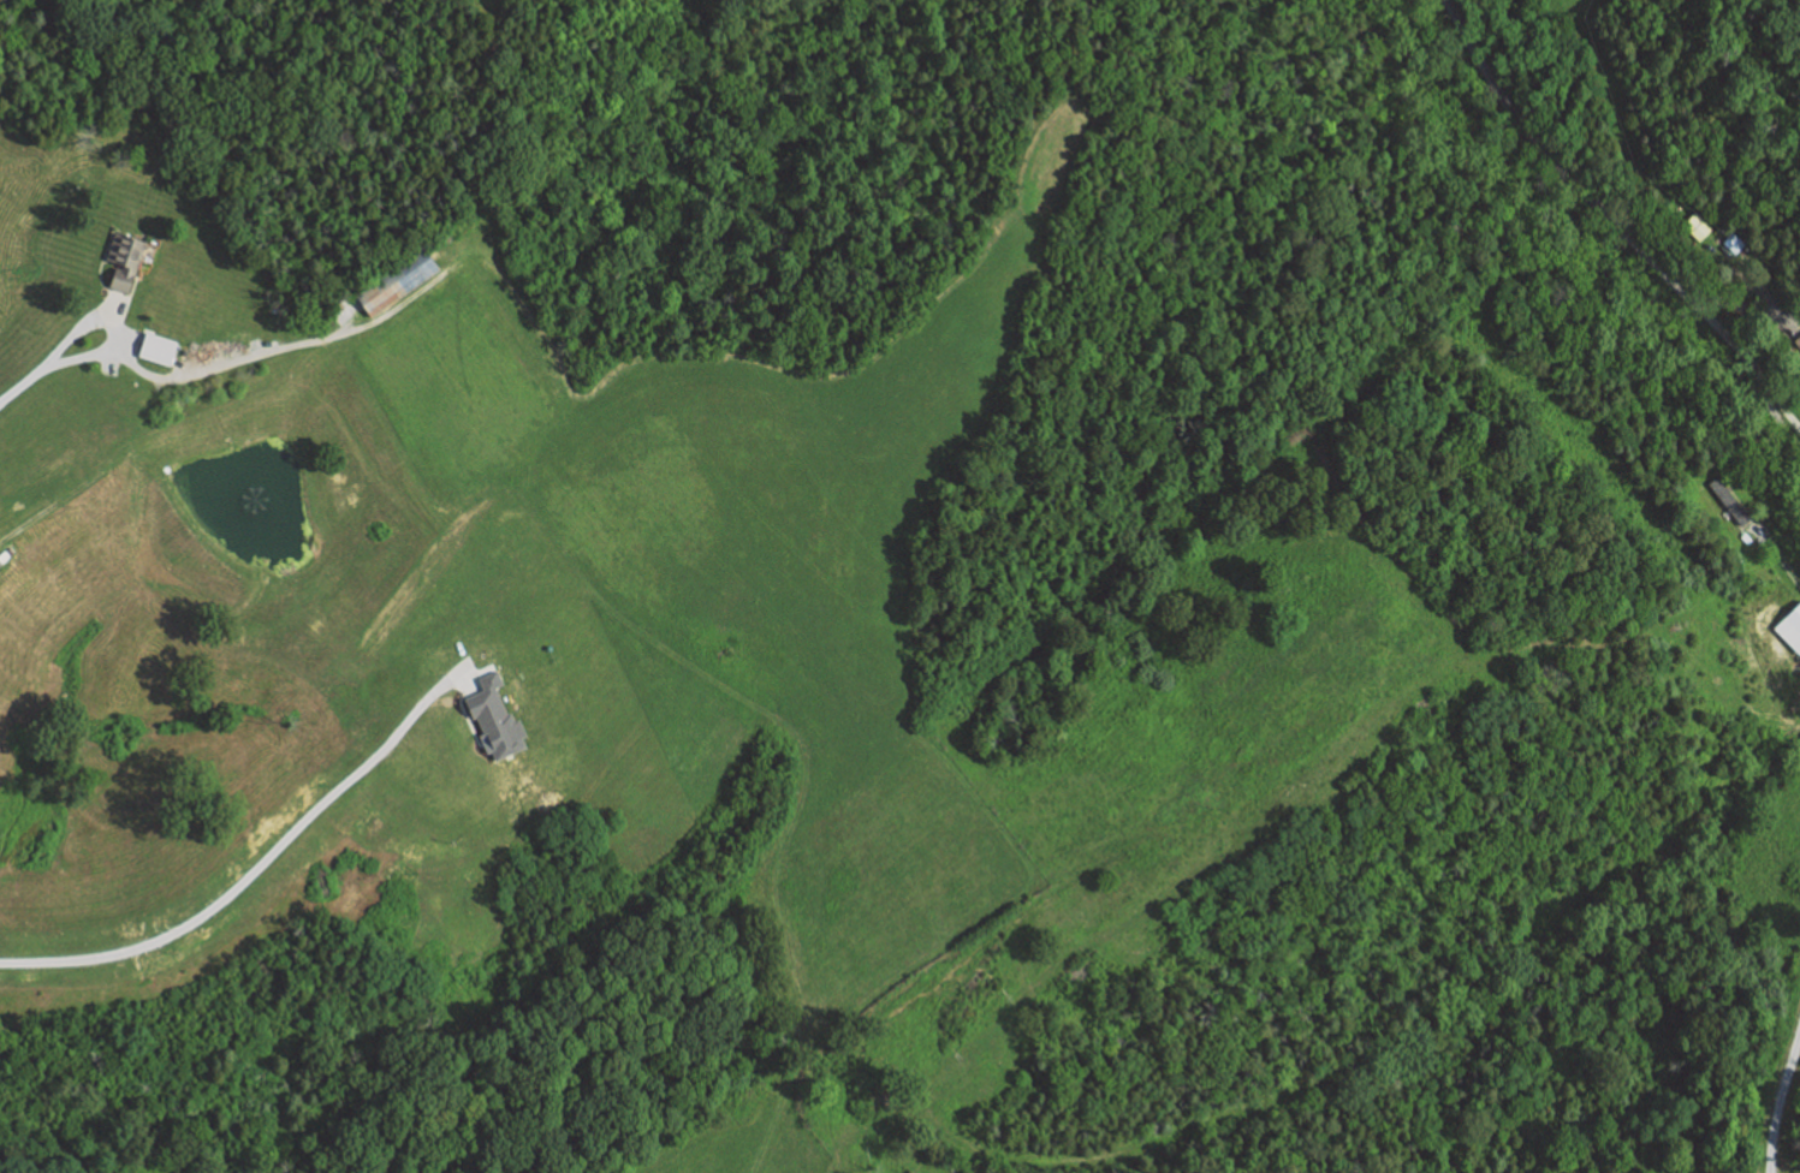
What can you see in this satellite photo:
road: (1614, 220)
building: (1699, 226)
building: (123, 261)
building: (397, 282)
road: (112, 304)
road: (1777, 306)
road: (1748, 308)
road: (118, 323)
road: (129, 343)
road: (279, 347)
building: (156, 350)
road: (22, 385)
road: (156, 430)
building: (1729, 500)
road: (1777, 554)
building: (1789, 626)
building: (493, 719)
road: (265, 858)
road: (1778, 1098)

